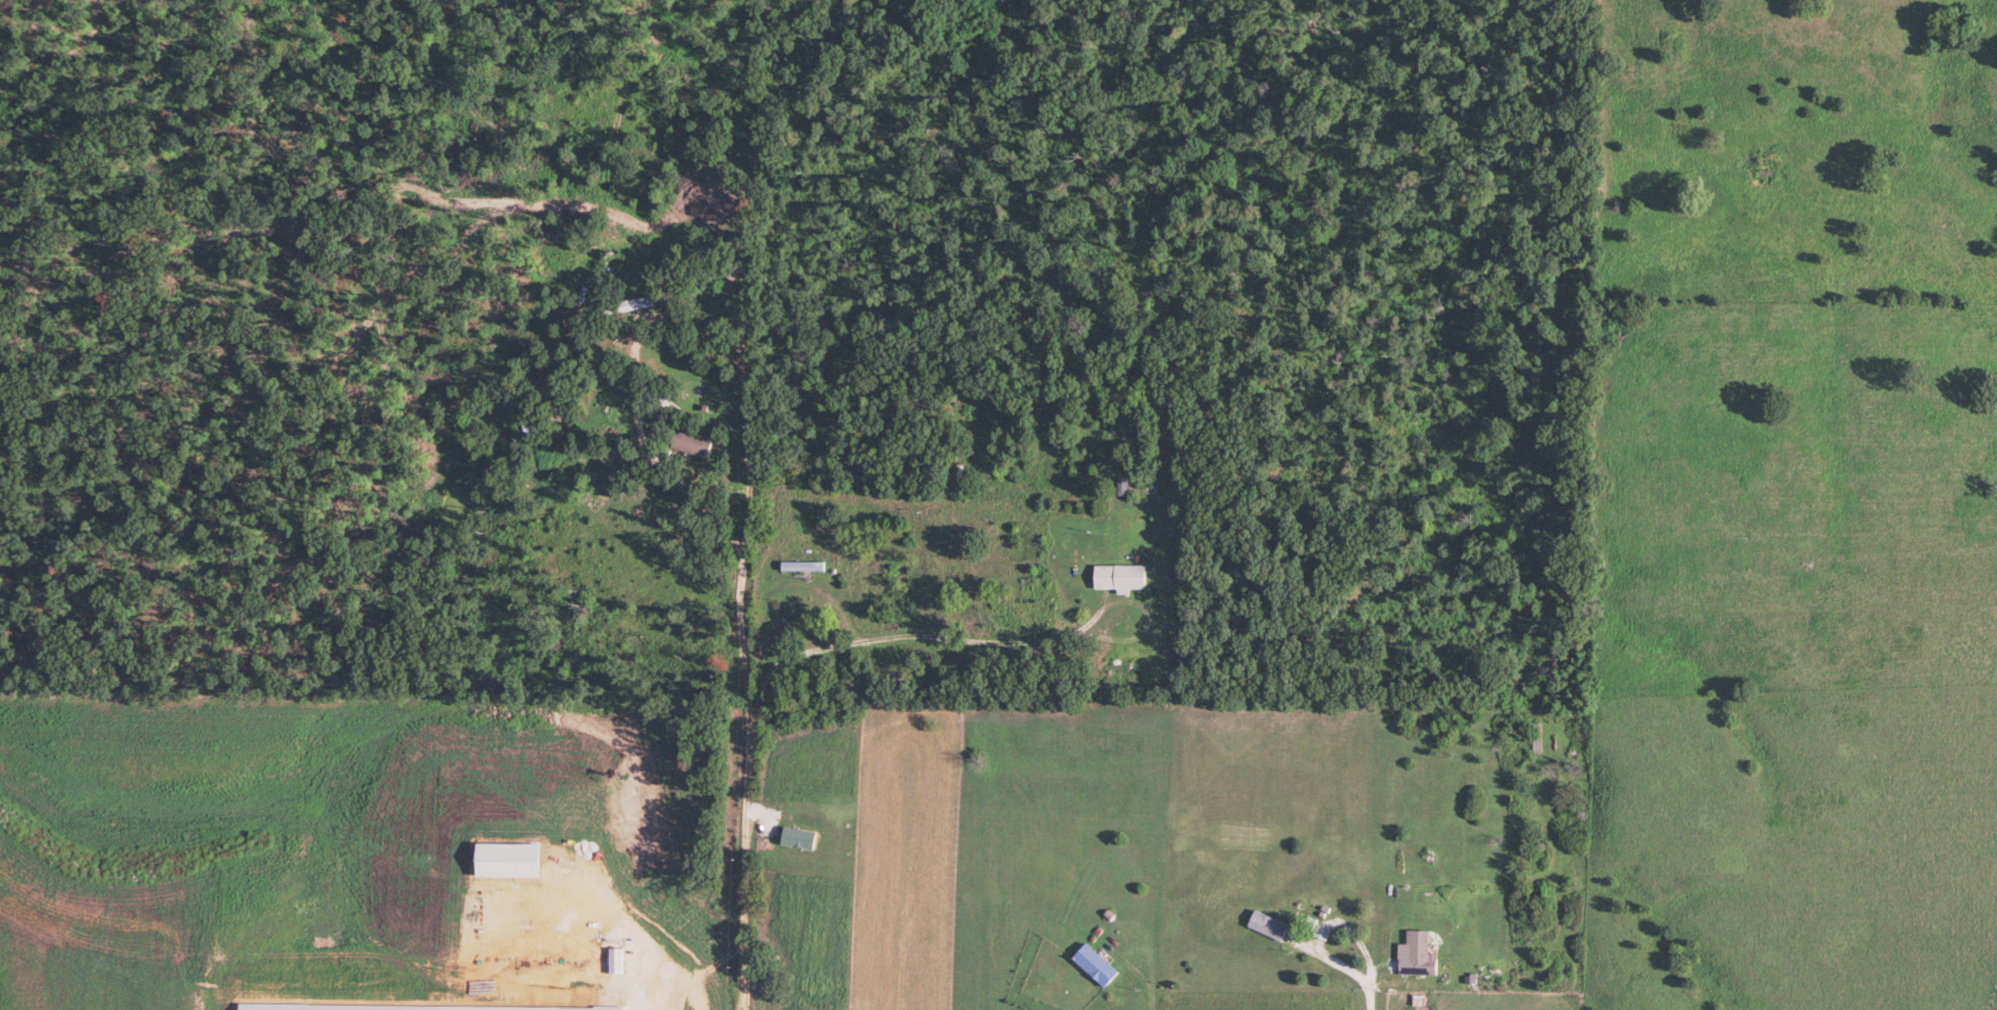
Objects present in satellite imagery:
building: (634, 304)
building: (689, 444)
building: (1121, 488)
building: (944, 544)
building: (801, 568)
building: (1117, 578)
road: (742, 635)
road: (922, 641)
building: (795, 840)
building: (1264, 926)
building: (1318, 934)
building: (1417, 954)
road: (1339, 965)
building: (1091, 966)
road: (1132, 973)

